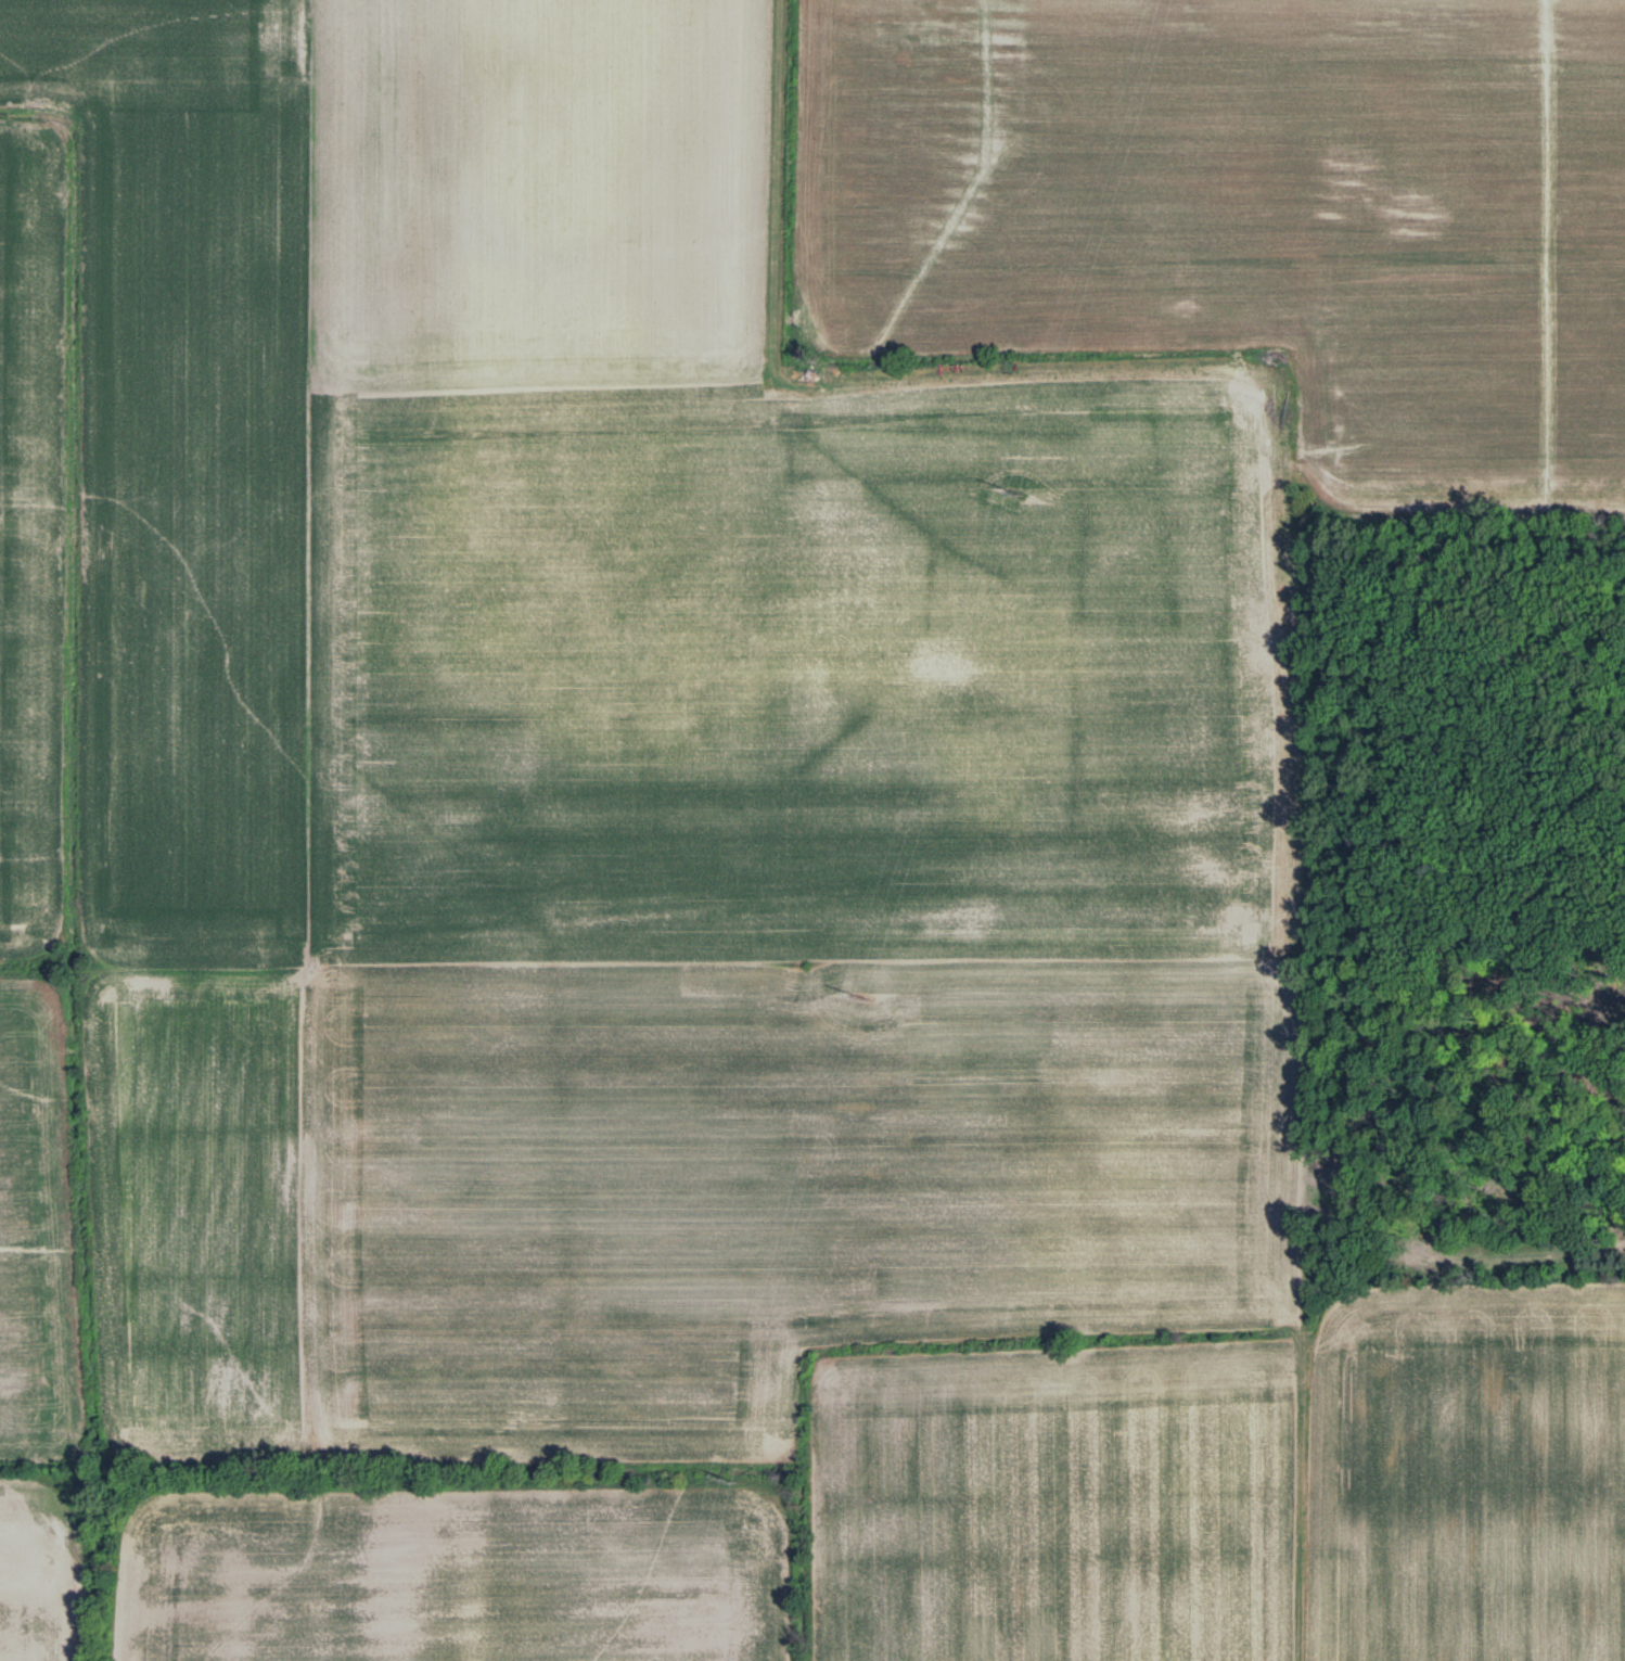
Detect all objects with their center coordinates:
power tower: (1014, 491)
power tower: (861, 995)
power tower: (721, 1485)

